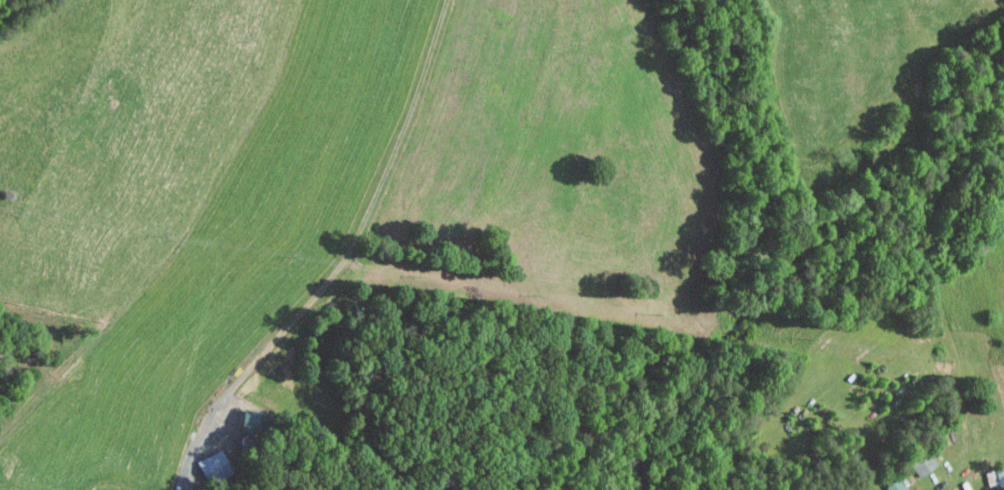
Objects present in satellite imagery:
building: (257, 423)
building: (922, 463)
building: (215, 466)
building: (994, 476)
building: (894, 485)

